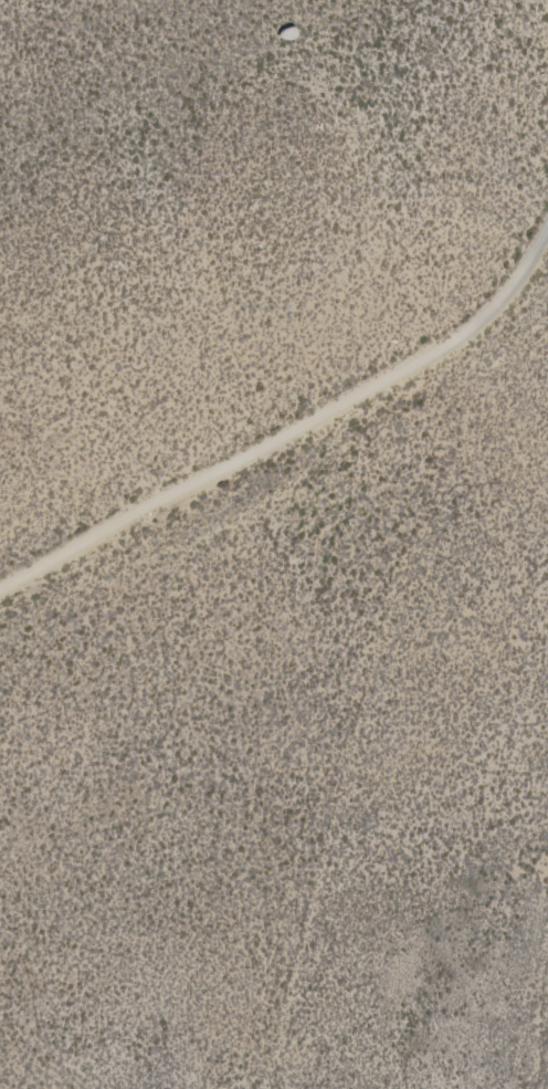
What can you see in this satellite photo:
road: (292, 434)

